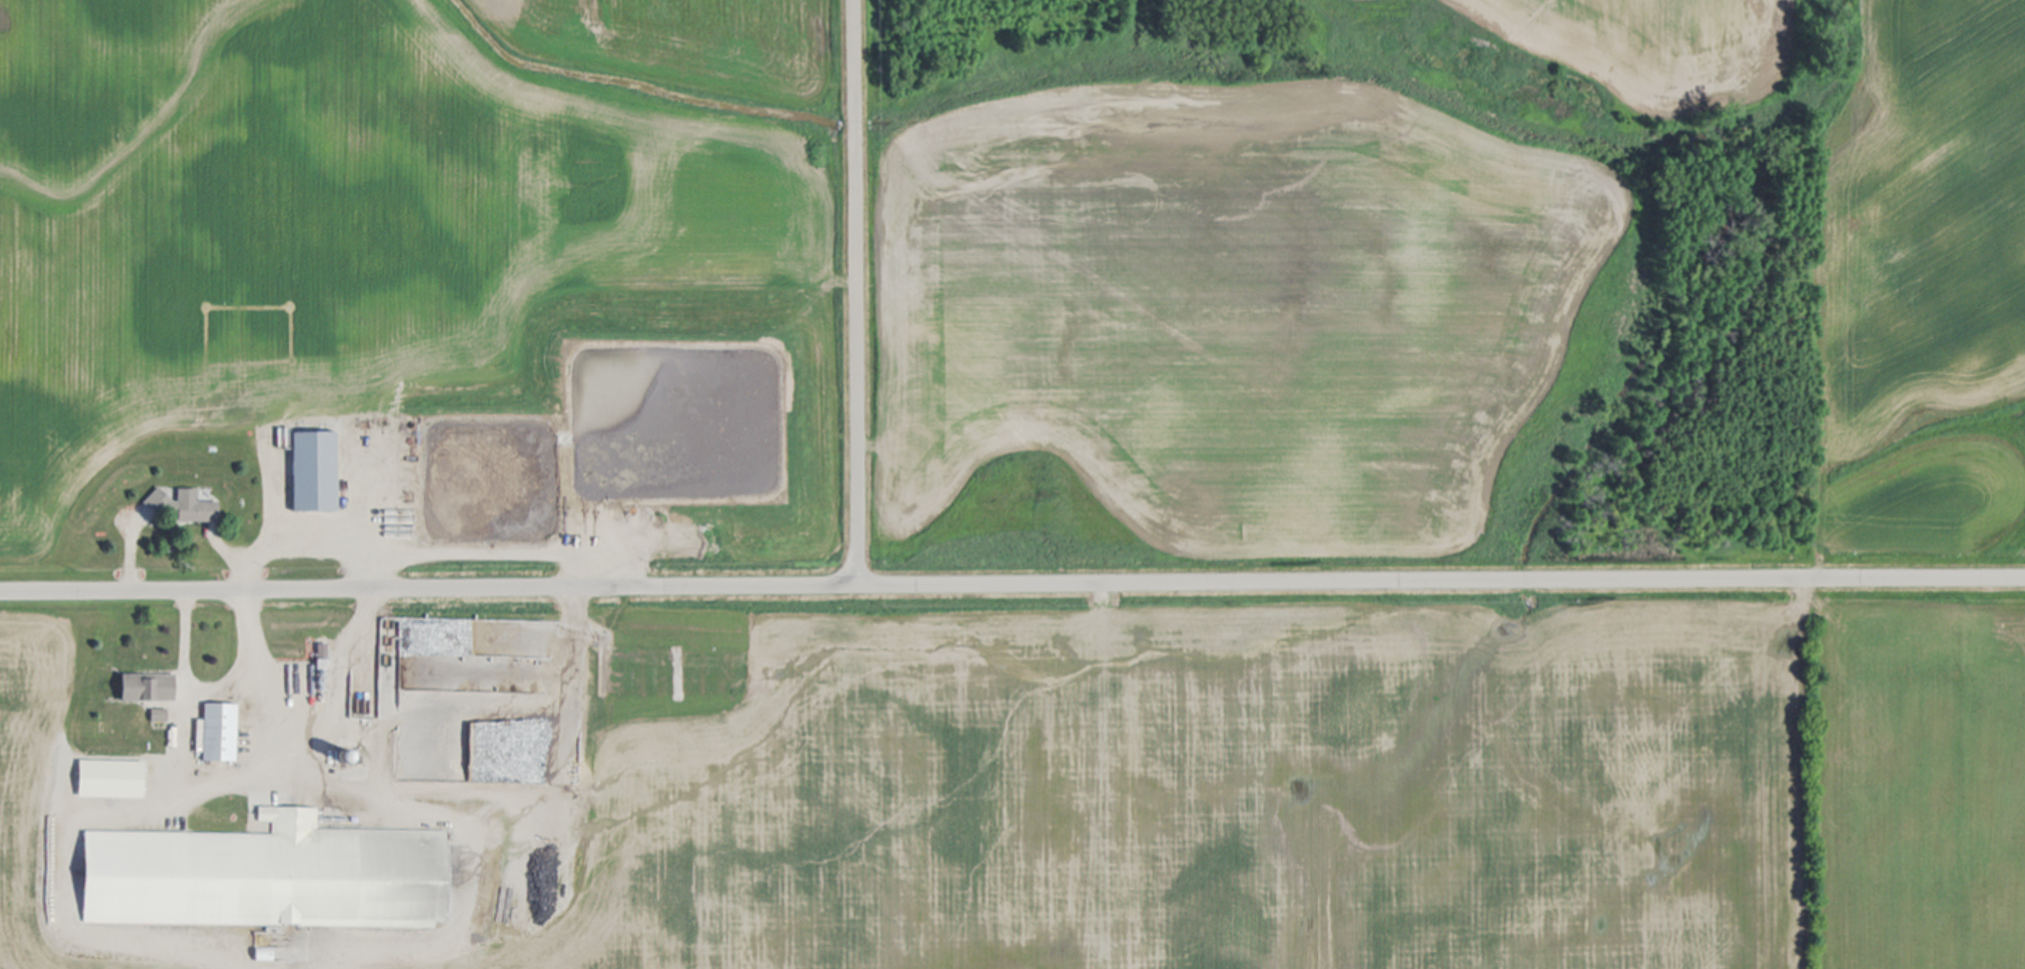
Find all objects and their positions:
road: (855, 291)
building: (317, 471)
building: (186, 506)
road: (258, 548)
road: (132, 558)
road: (1012, 581)
road: (185, 675)
building: (148, 688)
building: (221, 733)
building: (112, 779)
building: (257, 877)

